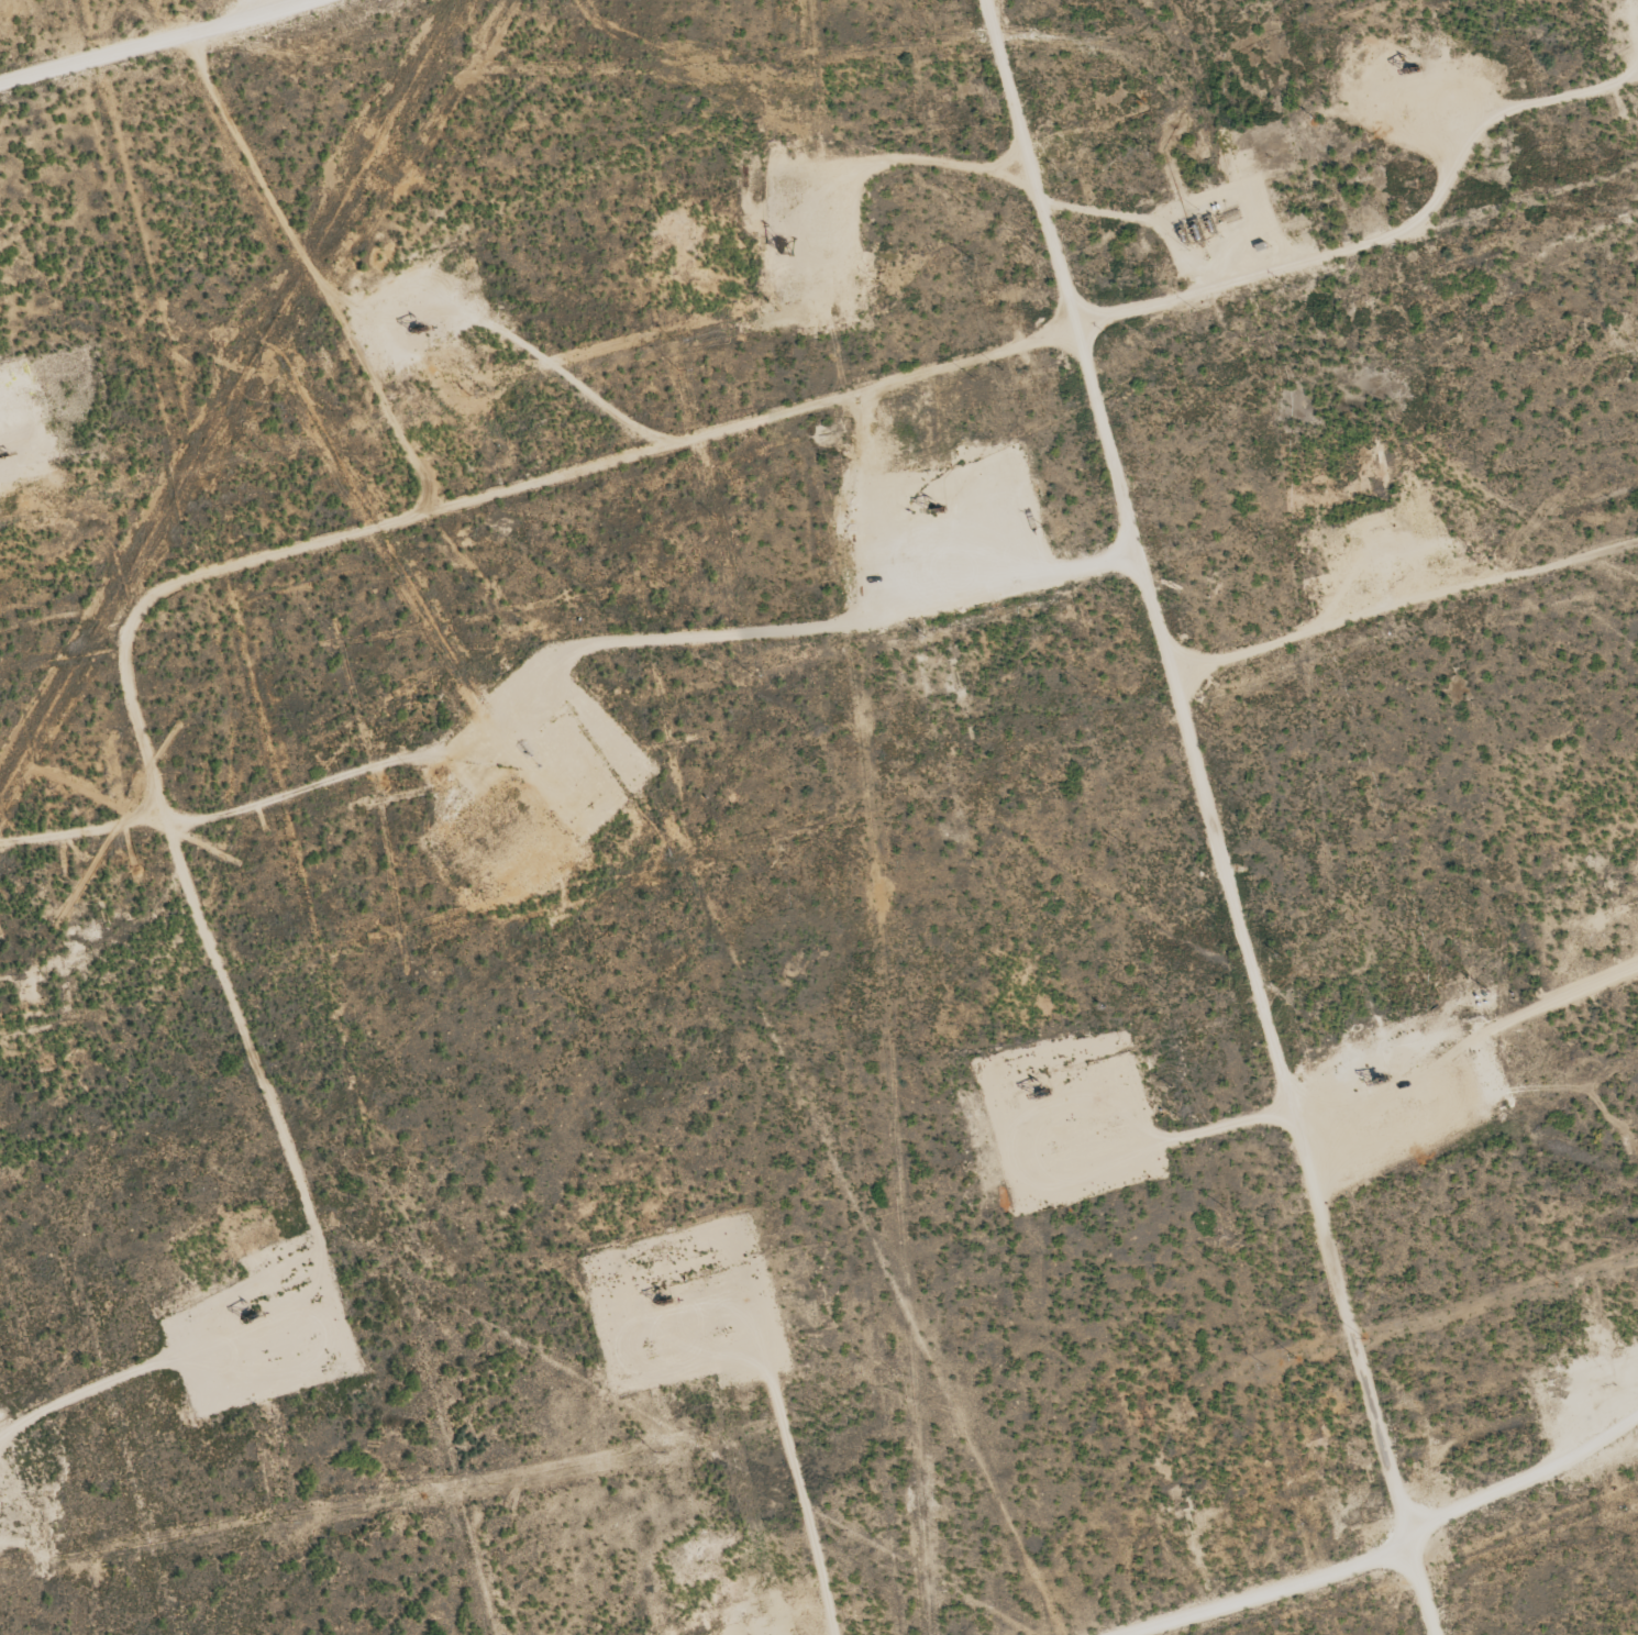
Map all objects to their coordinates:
road: (154, 42)
petroleum well: (1407, 66)
road: (264, 552)
road: (1405, 607)
road: (1213, 817)
road: (1525, 1479)
road: (1252, 1590)

